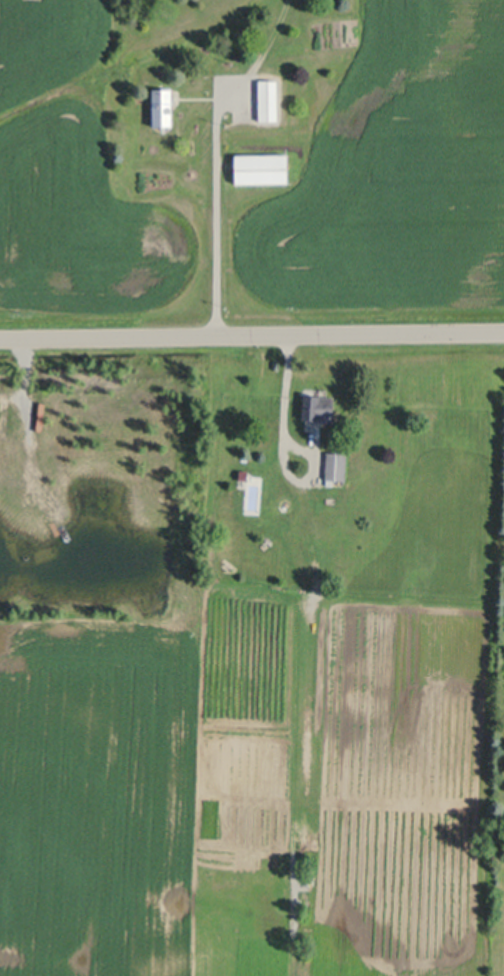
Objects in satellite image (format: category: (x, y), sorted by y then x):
building: (269, 99)
building: (163, 105)
building: (263, 168)
road: (215, 209)
road: (251, 335)
building: (319, 406)
road: (280, 449)
building: (337, 465)

